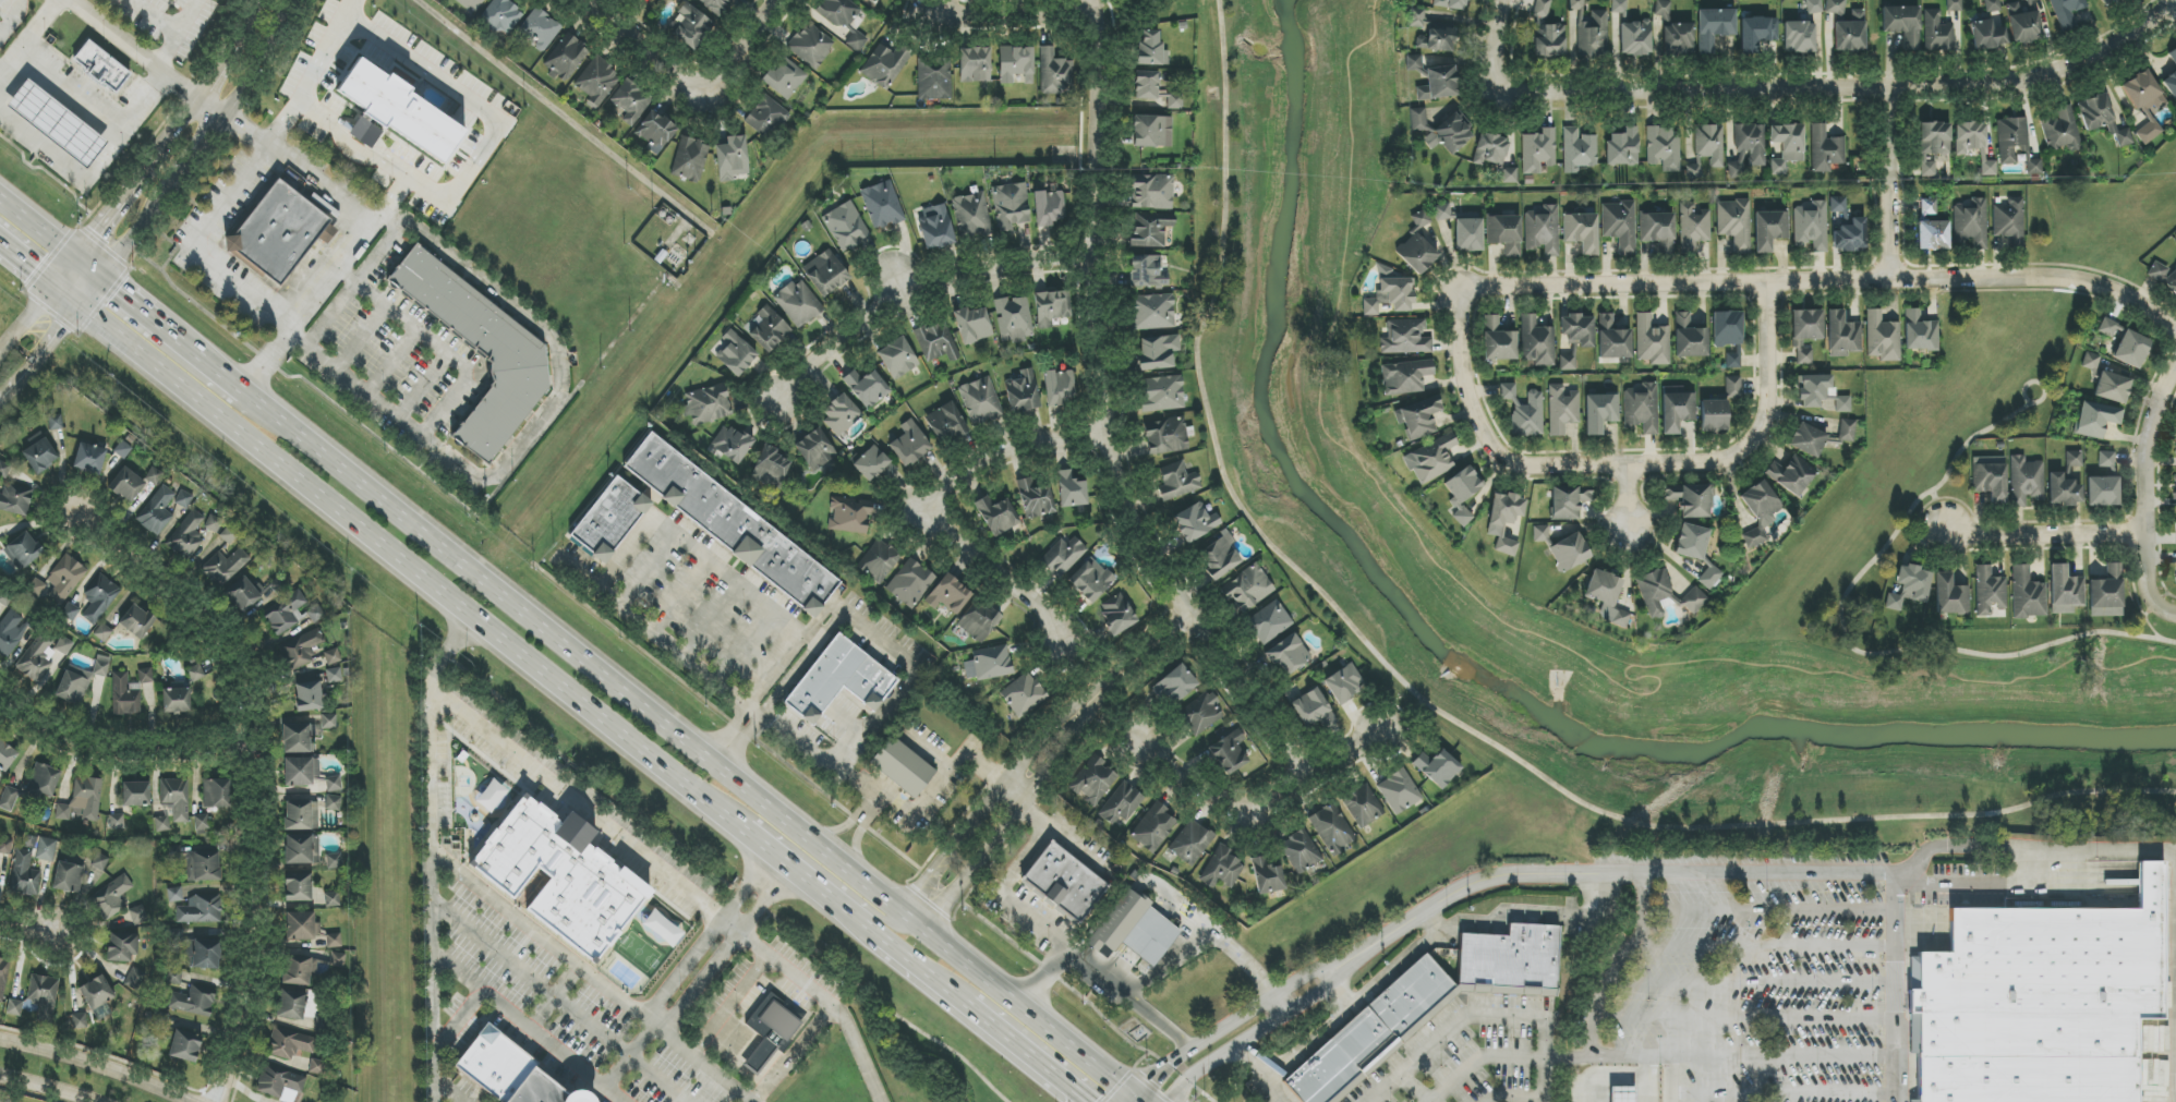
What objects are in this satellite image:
building: (871, 1)
building: (2029, 1)
building: (2106, 2)
building: (470, 3)
building: (1449, 4)
building: (1575, 4)
building: (716, 5)
building: (1954, 5)
building: (1992, 5)
building: (1813, 7)
building: (1542, 8)
building: (1836, 9)
building: (2067, 12)
building: (501, 16)
road: (150, 17)
road: (1018, 17)
building: (1416, 17)
road: (13, 21)
building: (844, 21)
building: (1902, 24)
building: (2022, 25)
building: (691, 27)
building: (1714, 27)
building: (540, 28)
building: (1675, 32)
road: (177, 33)
building: (1629, 33)
building: (1756, 33)
building: (1850, 33)
building: (1937, 33)
building: (1594, 36)
building: (1987, 36)
road: (29, 37)
building: (1799, 37)
building: (1436, 40)
building: (1550, 41)
road: (646, 45)
road: (742, 45)
building: (811, 46)
building: (1151, 49)
road: (1492, 53)
building: (2173, 56)
building: (566, 58)
building: (1413, 63)
building: (975, 64)
building: (1016, 64)
building: (885, 65)
building: (102, 66)
building: (1054, 72)
road: (1855, 73)
building: (784, 78)
building: (933, 81)
building: (596, 82)
building: (1438, 84)
building: (2171, 85)
building: (1155, 89)
road: (69, 92)
building: (2143, 93)
building: (630, 101)
building: (401, 111)
road: (486, 117)
building: (765, 117)
building: (2101, 118)
building: (57, 123)
gas station: (57, 123)
building: (2060, 130)
building: (1152, 131)
building: (655, 132)
building: (2148, 132)
road: (172, 133)
building: (364, 133)
building: (1934, 138)
building: (1970, 138)
building: (2011, 141)
building: (1709, 144)
road: (205, 145)
building: (1786, 146)
building: (1664, 148)
building: (1746, 149)
building: (1825, 149)
building: (1538, 150)
building: (1577, 150)
building: (1494, 156)
building: (730, 157)
building: (690, 159)
building: (2033, 167)
road: (90, 168)
building: (1987, 168)
building: (1927, 170)
building: (1693, 171)
road: (309, 174)
road: (1885, 175)
building: (1152, 192)
building: (882, 204)
building: (1011, 206)
building: (1927, 207)
building: (1048, 208)
building: (1441, 211)
building: (971, 215)
road: (390, 219)
building: (1421, 219)
building: (1971, 222)
building: (2009, 222)
building: (1734, 223)
building: (845, 226)
building: (1619, 226)
building: (1811, 226)
building: (1693, 227)
building: (935, 228)
building: (1846, 228)
road: (37, 229)
building: (1769, 229)
building: (1543, 230)
building: (1150, 231)
building: (1658, 231)
traffic signals: (94, 232)
building: (1504, 232)
building: (1581, 232)
building: (282, 235)
building: (1468, 235)
building: (1932, 235)
road: (196, 245)
building: (1416, 253)
road: (25, 263)
traffic signals: (33, 269)
road: (87, 269)
building: (1147, 271)
building: (2157, 271)
building: (825, 273)
road: (1821, 280)
building: (2171, 281)
road: (912, 282)
road: (65, 294)
traffic signals: (119, 294)
road: (35, 303)
building: (798, 303)
building: (1049, 308)
road: (141, 312)
building: (1155, 312)
building: (1014, 319)
building: (974, 325)
traffic signals: (61, 327)
building: (2107, 327)
building: (1727, 328)
building: (769, 329)
building: (1577, 331)
building: (1920, 332)
building: (1805, 335)
building: (1841, 335)
building: (1404, 337)
building: (1882, 337)
building: (1689, 338)
road: (50, 339)
building: (1612, 339)
building: (1498, 341)
building: (1652, 341)
building: (935, 342)
building: (1536, 342)
building: (2130, 349)
road: (444, 351)
building: (483, 351)
building: (1157, 352)
building: (736, 353)
building: (897, 358)
building: (1732, 360)
building: (2089, 361)
building: (1567, 362)
road: (213, 370)
building: (1405, 377)
building: (1059, 387)
building: (2112, 387)
building: (867, 388)
building: (1812, 390)
building: (1023, 392)
building: (1162, 393)
building: (981, 401)
building: (1842, 403)
building: (708, 404)
building: (1718, 407)
building: (1641, 408)
building: (1676, 409)
building: (1523, 410)
building: (1561, 410)
building: (1600, 412)
building: (841, 414)
road: (537, 417)
building: (1418, 417)
building: (2095, 419)
road: (1104, 421)
building: (945, 423)
building: (1847, 431)
building: (1165, 436)
building: (1806, 439)
building: (730, 444)
building: (909, 444)
building: (122, 449)
building: (814, 449)
building: (38, 453)
building: (90, 459)
building: (1430, 459)
building: (2105, 459)
building: (874, 464)
building: (771, 468)
road: (1618, 469)
building: (1791, 475)
building: (155, 476)
building: (1990, 477)
building: (2024, 481)
building: (1175, 483)
building: (2066, 483)
building: (126, 485)
road: (2150, 487)
building: (1071, 491)
building: (2102, 492)
building: (1462, 493)
building: (15, 499)
building: (183, 499)
building: (1035, 499)
building: (1692, 499)
building: (1569, 501)
road: (1624, 502)
road: (927, 506)
building: (157, 511)
building: (1760, 511)
building: (849, 514)
building: (996, 516)
building: (1504, 520)
building: (615, 522)
building: (1194, 522)
building: (213, 523)
building: (735, 526)
building: (230, 533)
building: (1540, 534)
road: (2048, 534)
building: (188, 535)
building: (1691, 542)
building: (22, 550)
building: (1569, 552)
building: (1062, 557)
building: (1219, 557)
building: (879, 560)
building: (227, 565)
road: (409, 567)
road: (646, 569)
building: (1709, 577)
building: (64, 579)
road: (591, 579)
building: (1091, 580)
building: (910, 583)
building: (1909, 586)
building: (1247, 589)
building: (1654, 591)
building: (1987, 591)
building: (2065, 591)
building: (2106, 593)
building: (242, 594)
building: (2027, 594)
building: (948, 595)
building: (1607, 596)
building: (1950, 596)
building: (99, 597)
building: (4, 598)
building: (1694, 601)
road: (2164, 607)
building: (285, 608)
building: (315, 613)
building: (1117, 614)
building: (136, 621)
building: (978, 621)
building: (1271, 626)
building: (12, 632)
building: (102, 632)
building: (63, 645)
building: (301, 649)
road: (1150, 650)
building: (1289, 654)
building: (333, 656)
building: (37, 657)
building: (988, 664)
road: (912, 665)
building: (101, 666)
building: (335, 675)
building: (145, 676)
building: (842, 682)
building: (196, 685)
building: (1344, 685)
building: (74, 686)
building: (1174, 686)
building: (310, 693)
building: (1024, 694)
building: (176, 700)
road: (765, 701)
road: (1422, 703)
building: (1314, 709)
building: (1201, 714)
road: (847, 720)
building: (304, 735)
road: (114, 741)
road: (689, 744)
road: (928, 750)
building: (1229, 752)
building: (7, 756)
road: (825, 763)
building: (899, 767)
road: (984, 767)
building: (1437, 768)
building: (301, 772)
road: (242, 779)
building: (1092, 780)
building: (334, 784)
building: (33, 786)
road: (1000, 787)
road: (1016, 791)
building: (1399, 791)
building: (136, 794)
building: (217, 794)
road: (928, 797)
road: (584, 798)
building: (176, 799)
building: (82, 800)
building: (333, 802)
building: (1121, 804)
building: (1362, 806)
road: (1021, 807)
road: (1261, 813)
building: (301, 815)
building: (117, 822)
building: (202, 823)
building: (161, 824)
building: (525, 825)
building: (1153, 827)
road: (837, 828)
building: (1332, 828)
building: (1192, 843)
road: (857, 844)
building: (5, 846)
road: (2030, 847)
building: (46, 849)
building: (302, 849)
building: (1301, 851)
building: (173, 852)
road: (431, 853)
building: (100, 860)
building: (334, 861)
road: (783, 862)
building: (203, 864)
building: (1222, 870)
building: (24, 873)
road: (1601, 874)
building: (1267, 876)
building: (68, 877)
building: (537, 880)
building: (1062, 883)
building: (298, 886)
road: (1973, 886)
building: (110, 897)
road: (1160, 897)
building: (331, 899)
building: (194, 907)
road: (1769, 910)
road: (875, 915)
building: (137, 916)
road: (851, 916)
road: (1029, 919)
road: (1431, 922)
building: (300, 925)
road: (27, 927)
building: (663, 929)
building: (1134, 931)
road: (752, 933)
building: (334, 941)
road: (544, 941)
road: (1424, 945)
building: (122, 946)
road: (1763, 946)
building: (197, 950)
road: (781, 957)
building: (338, 959)
road: (1165, 964)
building: (301, 969)
road: (920, 969)
building: (174, 974)
building: (3, 977)
building: (134, 979)
road: (533, 979)
road: (1751, 982)
road: (1606, 985)
road: (1894, 986)
road: (1341, 990)
building: (96, 992)
building: (44, 995)
road: (556, 995)
building: (194, 1001)
road: (2174, 1001)
road: (1129, 1002)
building: (2041, 1002)
building: (291, 1005)
building: (1428, 1005)
building: (14, 1008)
road: (1483, 1016)
road: (1743, 1017)
road: (1229, 1022)
building: (78, 1024)
road: (988, 1024)
building: (322, 1026)
building: (776, 1030)
road: (1253, 1036)
building: (289, 1043)
building: (185, 1046)
road: (791, 1051)
road: (1772, 1057)
road: (1642, 1058)
road: (628, 1059)
road: (1480, 1062)
building: (498, 1063)
road: (100, 1064)
building: (317, 1068)
road: (722, 1070)
road: (1048, 1071)
road: (1260, 1073)
road: (664, 1078)
road: (1612, 1078)
traffic signals: (1152, 1079)
road: (1670, 1080)
building: (281, 1083)
road: (47, 1088)
road: (1414, 1088)
building: (554, 1090)
road: (619, 1092)
road: (1781, 1093)
building: (1622, 1094)
road: (757, 1099)
road: (1131, 1099)
road: (1136, 1099)

